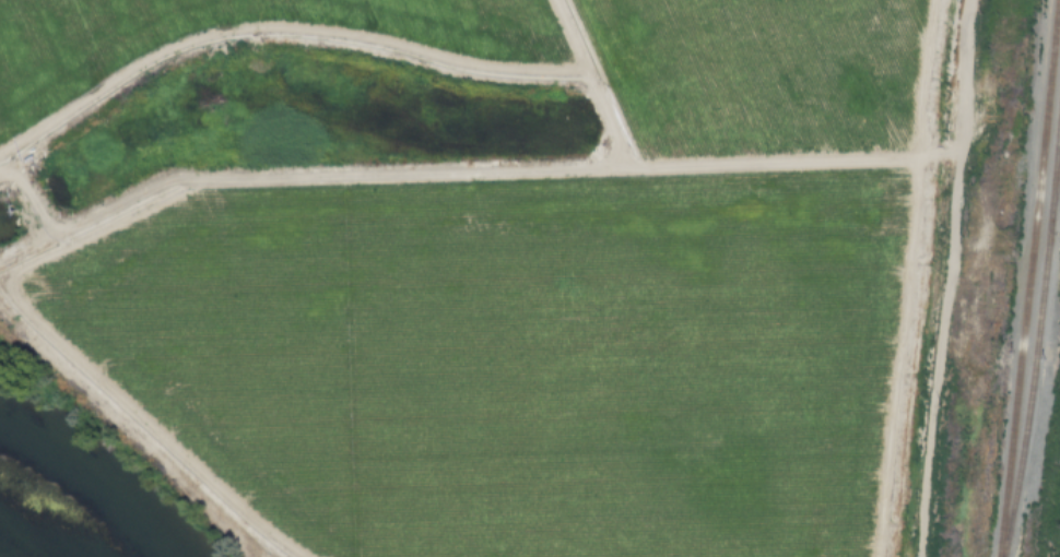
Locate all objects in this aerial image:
road: (585, 83)
road: (461, 169)
railway: (1056, 176)
railway: (1027, 277)
road: (943, 278)
railway: (1037, 333)

